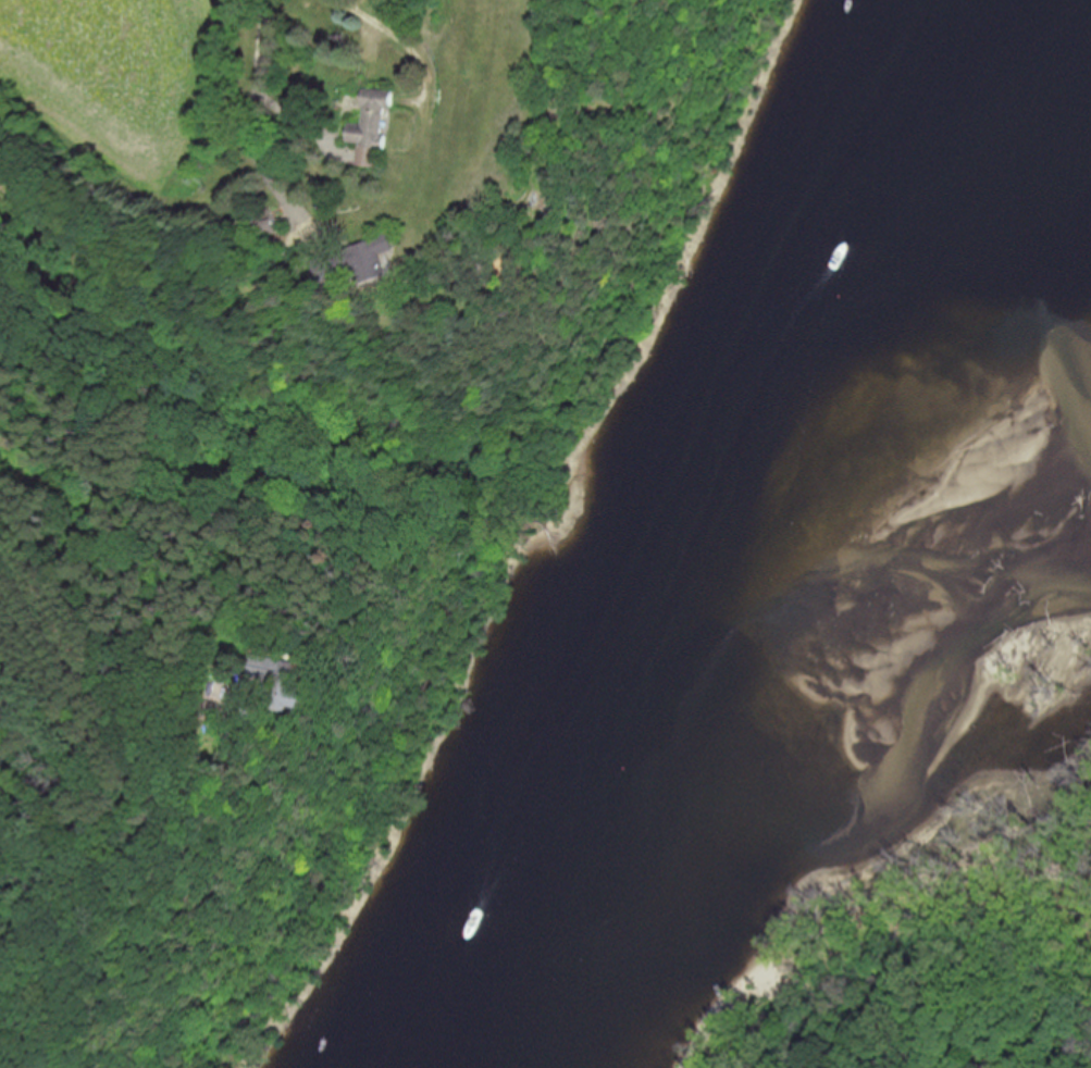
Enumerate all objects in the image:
road: (367, 30)
road: (257, 110)
building: (373, 132)
building: (379, 262)
river: (940, 432)
river: (1079, 492)
river: (743, 523)
building: (283, 683)

